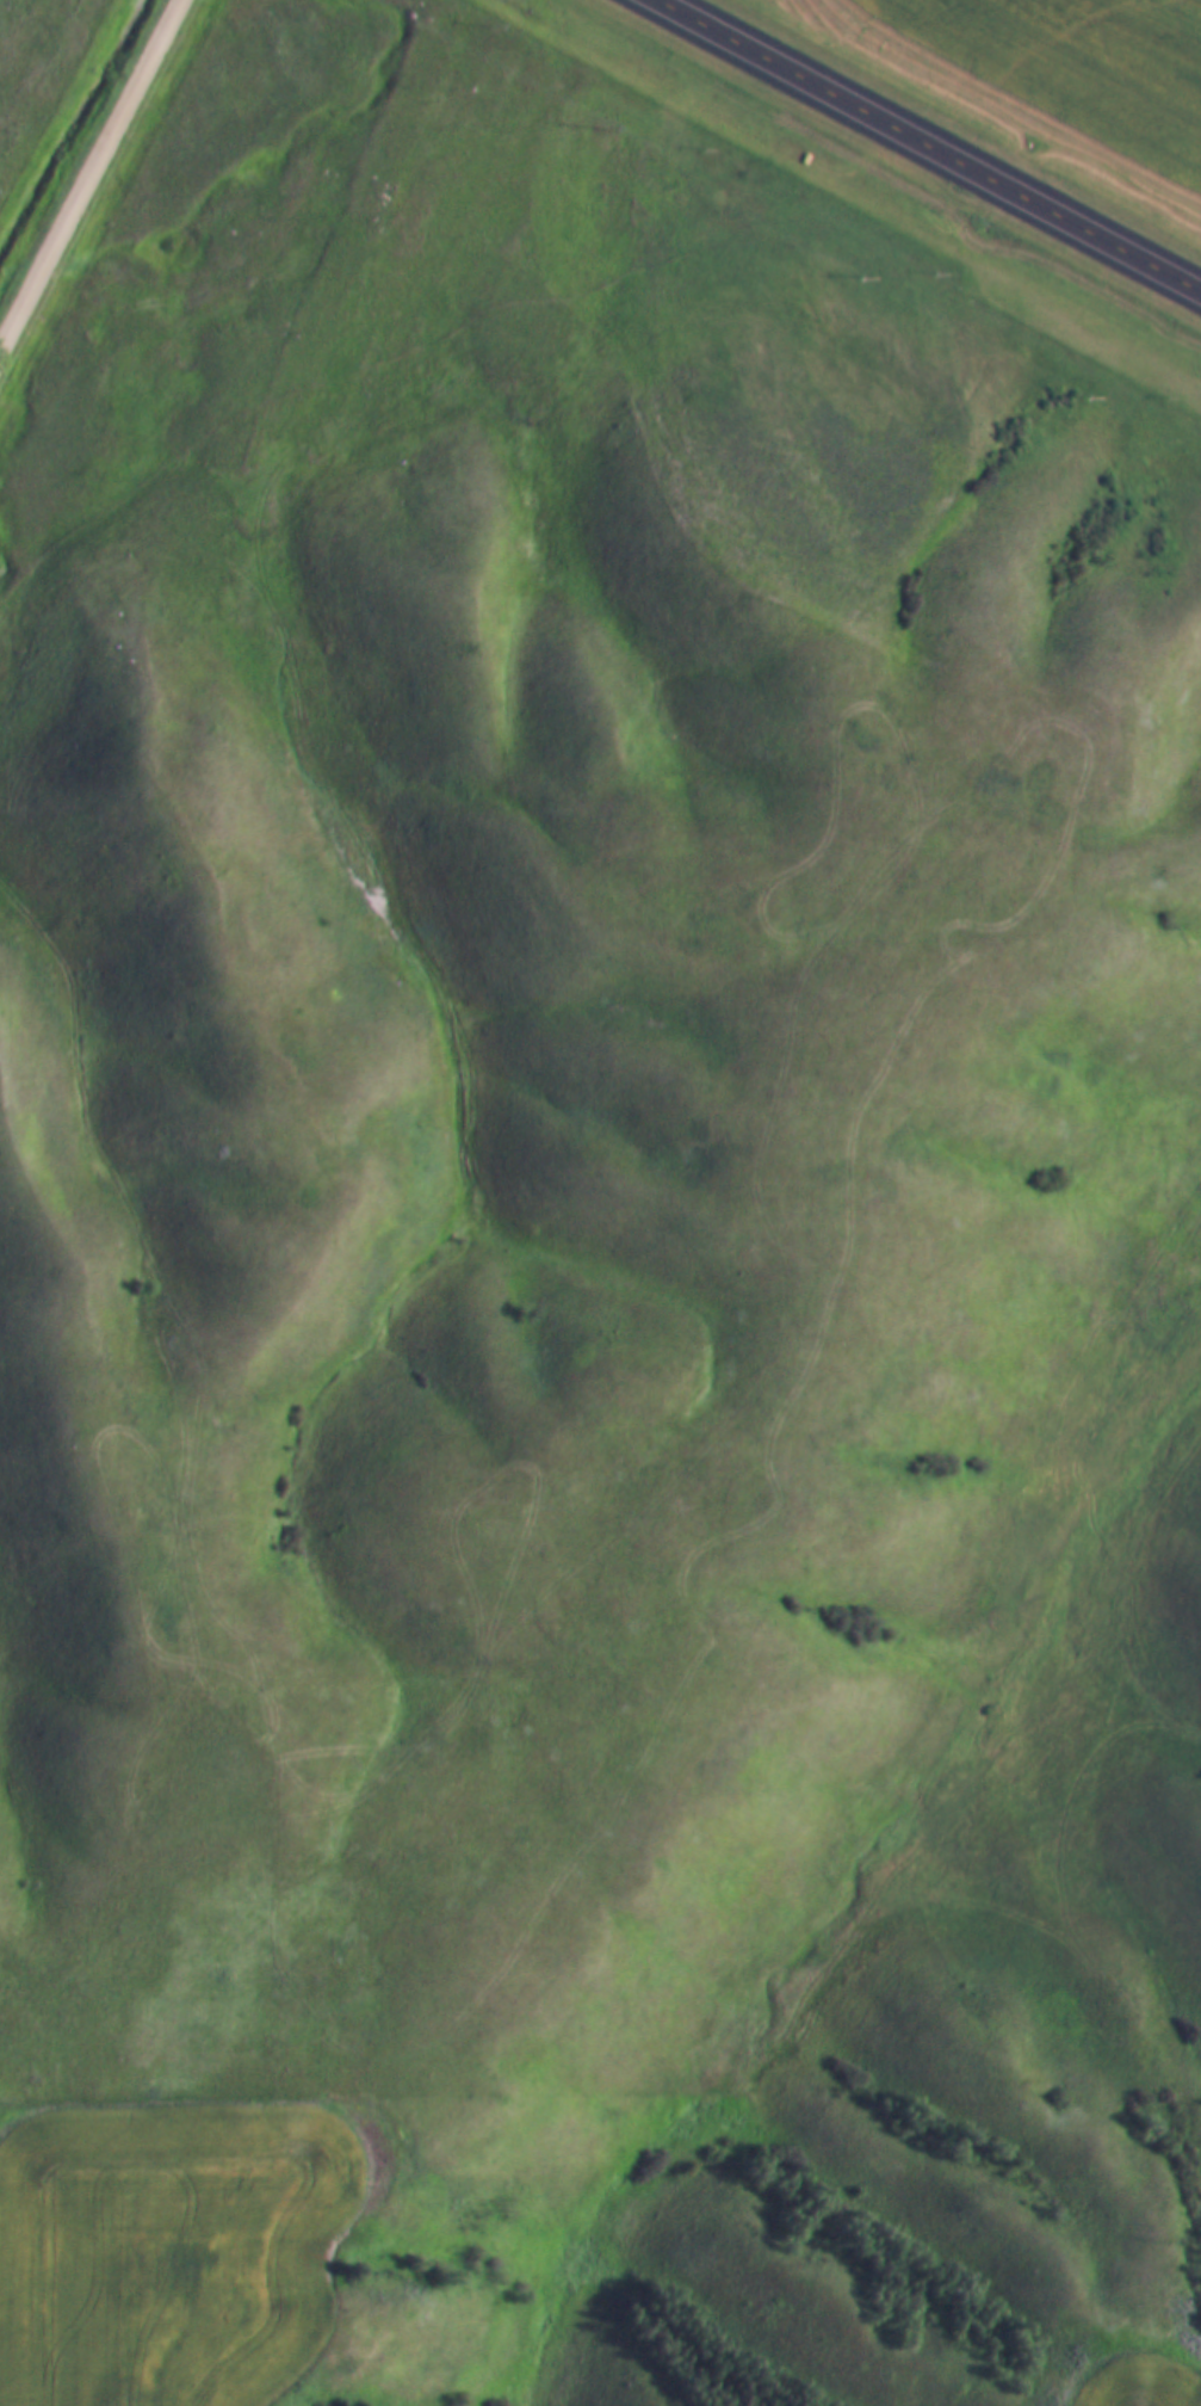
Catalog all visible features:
road: (931, 142)
road: (88, 171)

